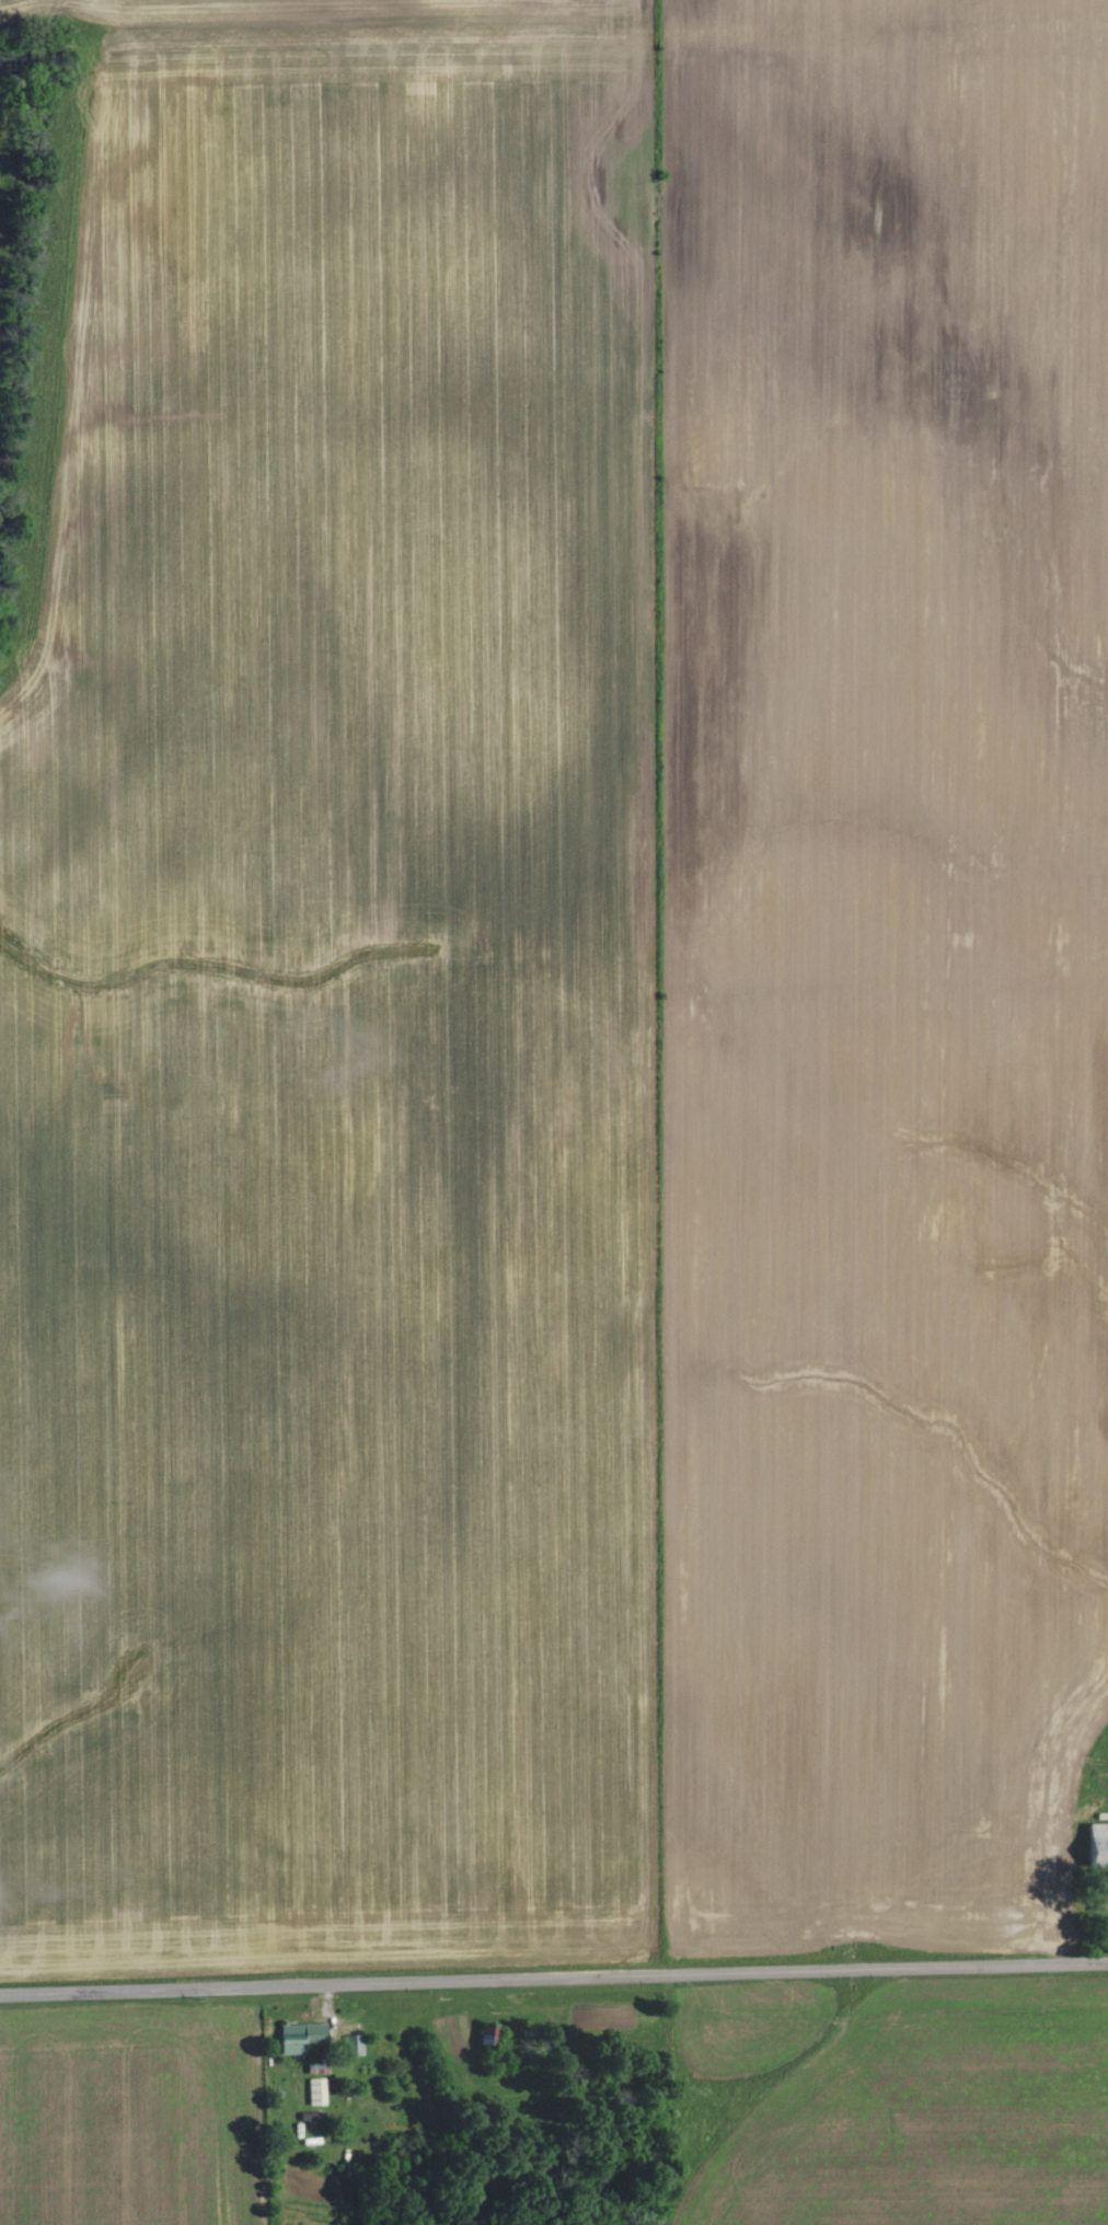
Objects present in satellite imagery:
building: (1094, 1844)
road: (554, 1978)
building: (297, 2037)
building: (348, 2044)
building: (312, 2091)

